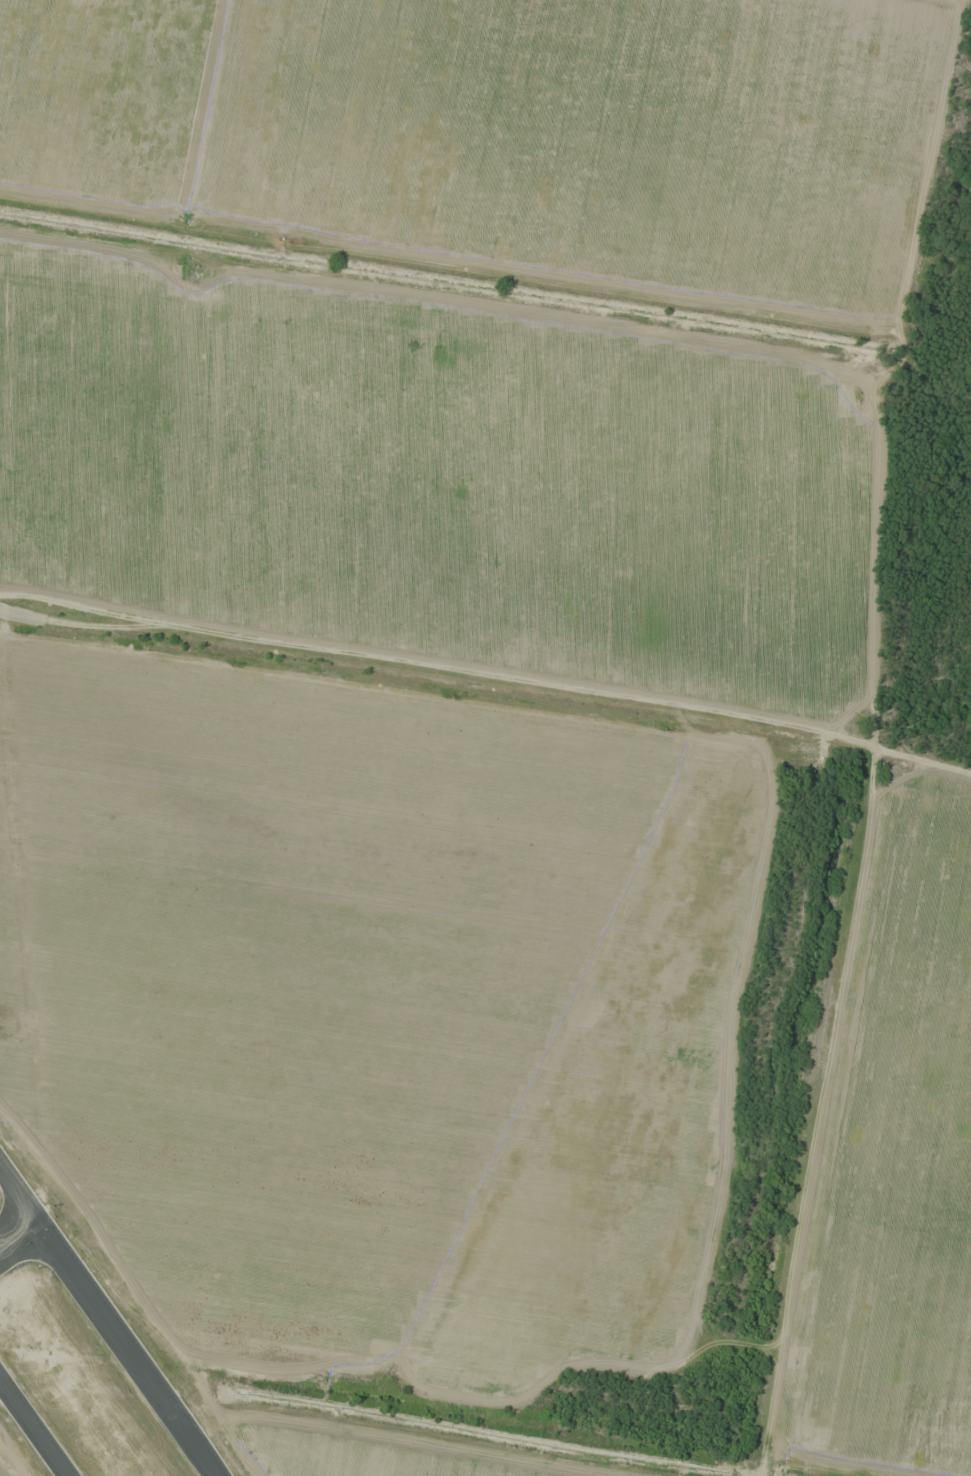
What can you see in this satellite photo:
road: (22, 618)
road: (507, 691)
road: (821, 1109)
road: (18, 1230)
road: (108, 1319)
road: (33, 1429)

